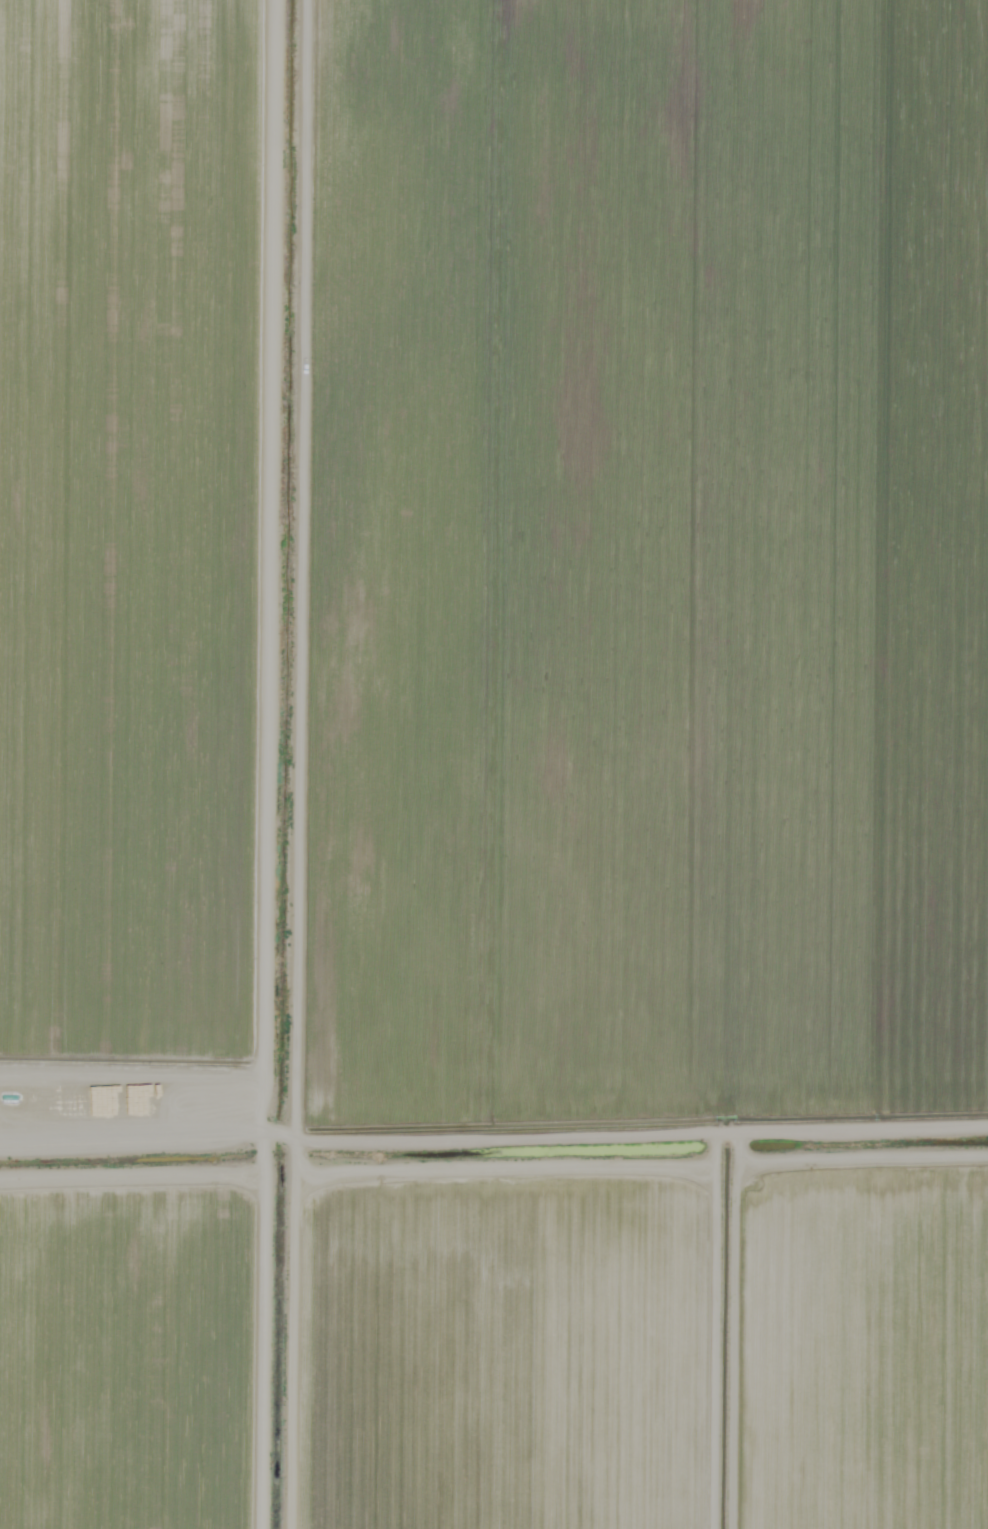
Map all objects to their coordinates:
crop: (845, 539)
crop: (351, 559)
road: (363, 1150)
crop: (864, 1191)
road: (725, 1340)
crop: (368, 1344)
crop: (861, 1377)

